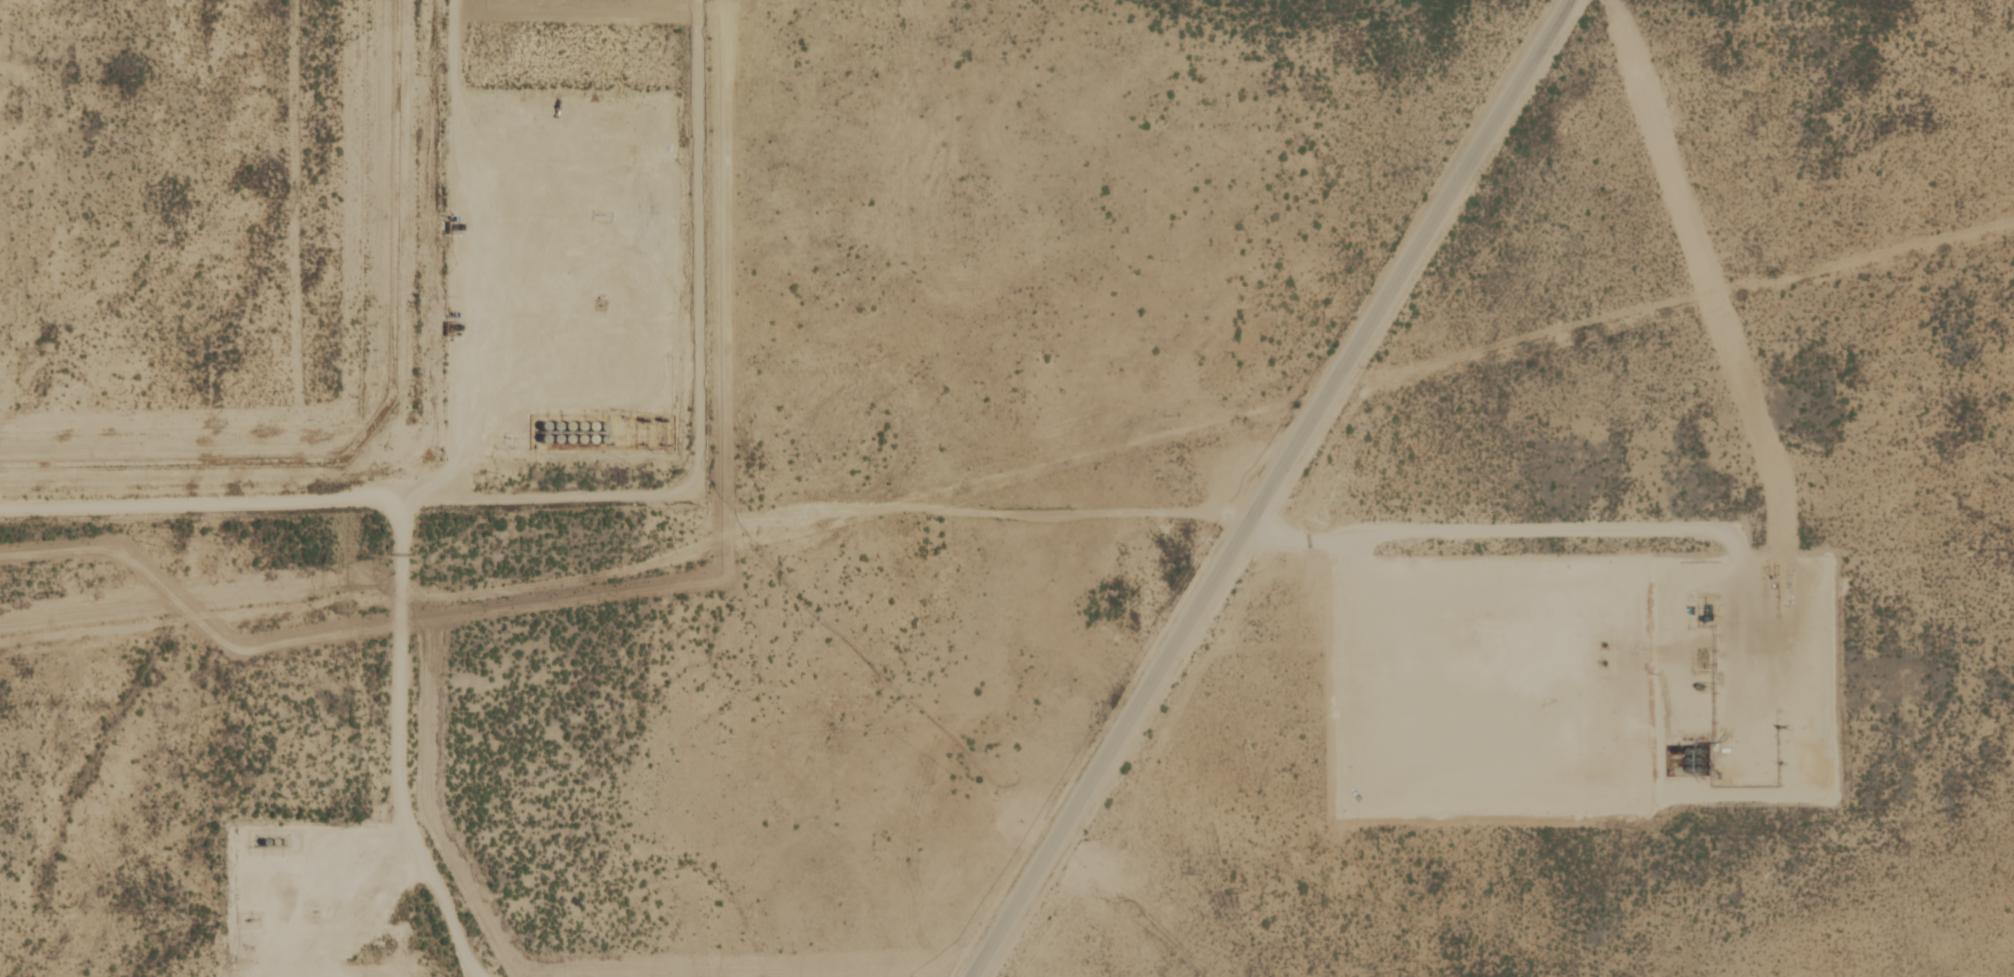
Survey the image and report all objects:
road: (706, 392)
road: (1287, 488)
road: (205, 505)
road: (406, 598)

